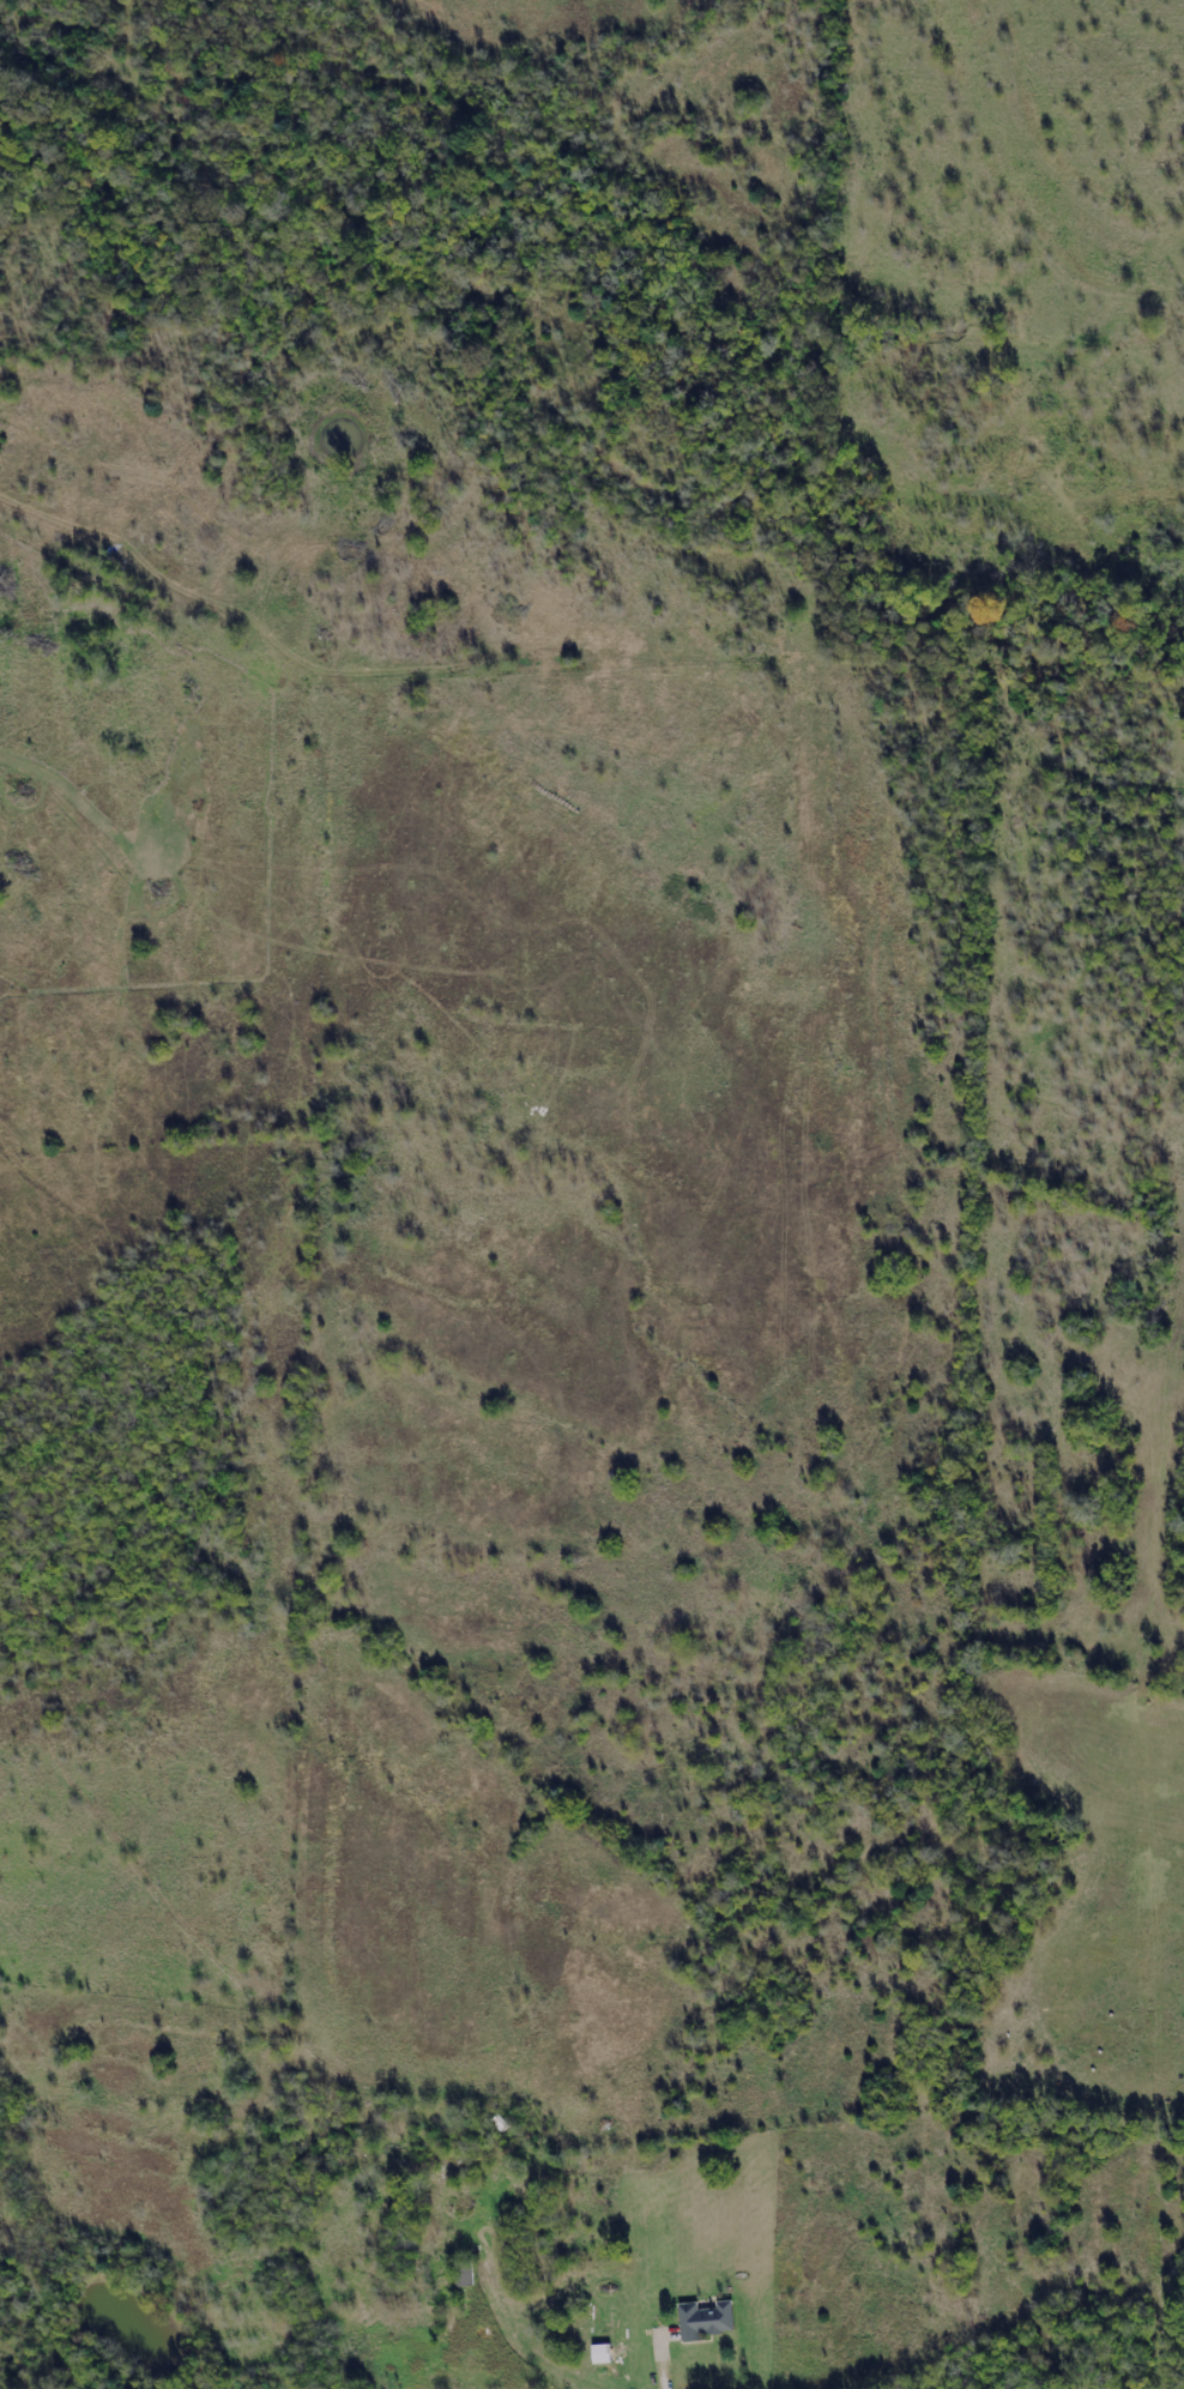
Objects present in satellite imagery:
building: (460, 2276)
road: (507, 2321)
building: (703, 2322)

